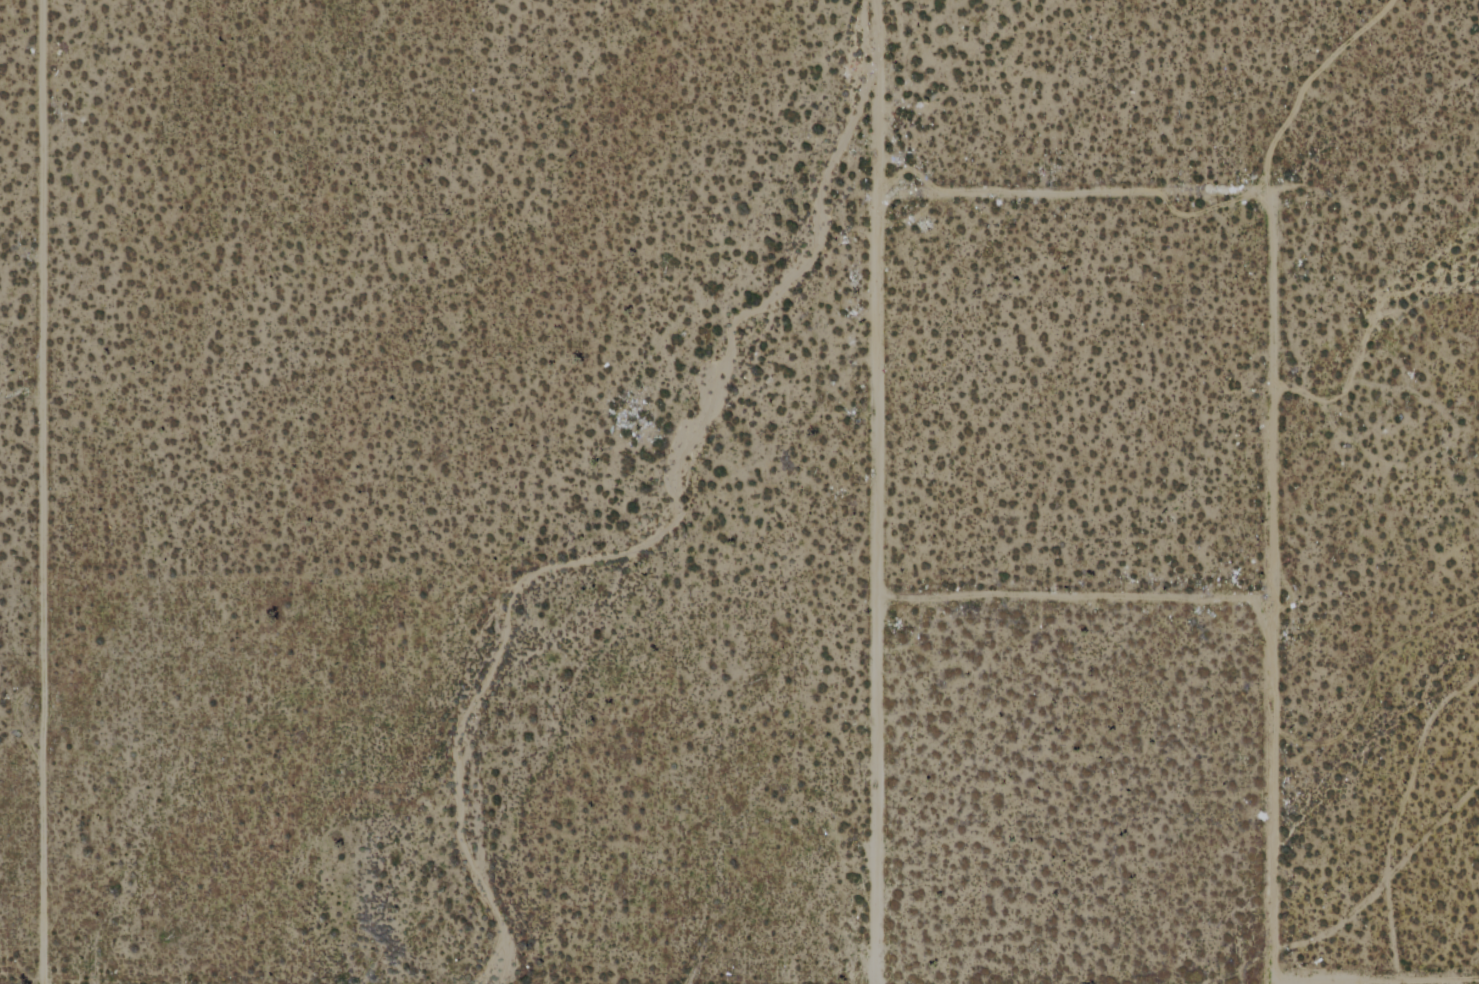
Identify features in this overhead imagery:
road: (1072, 193)
road: (1272, 393)
road: (880, 492)
road: (1269, 791)
road: (1396, 840)

